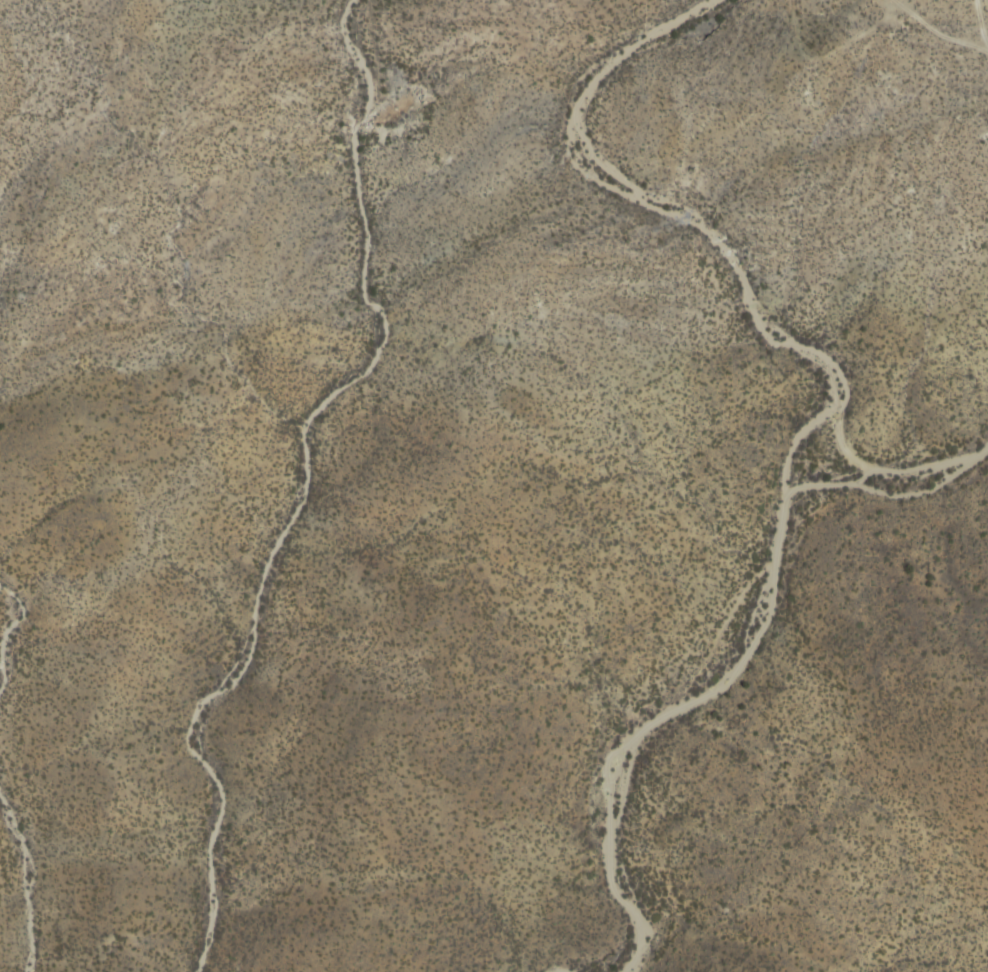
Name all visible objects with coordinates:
road: (979, 3)

